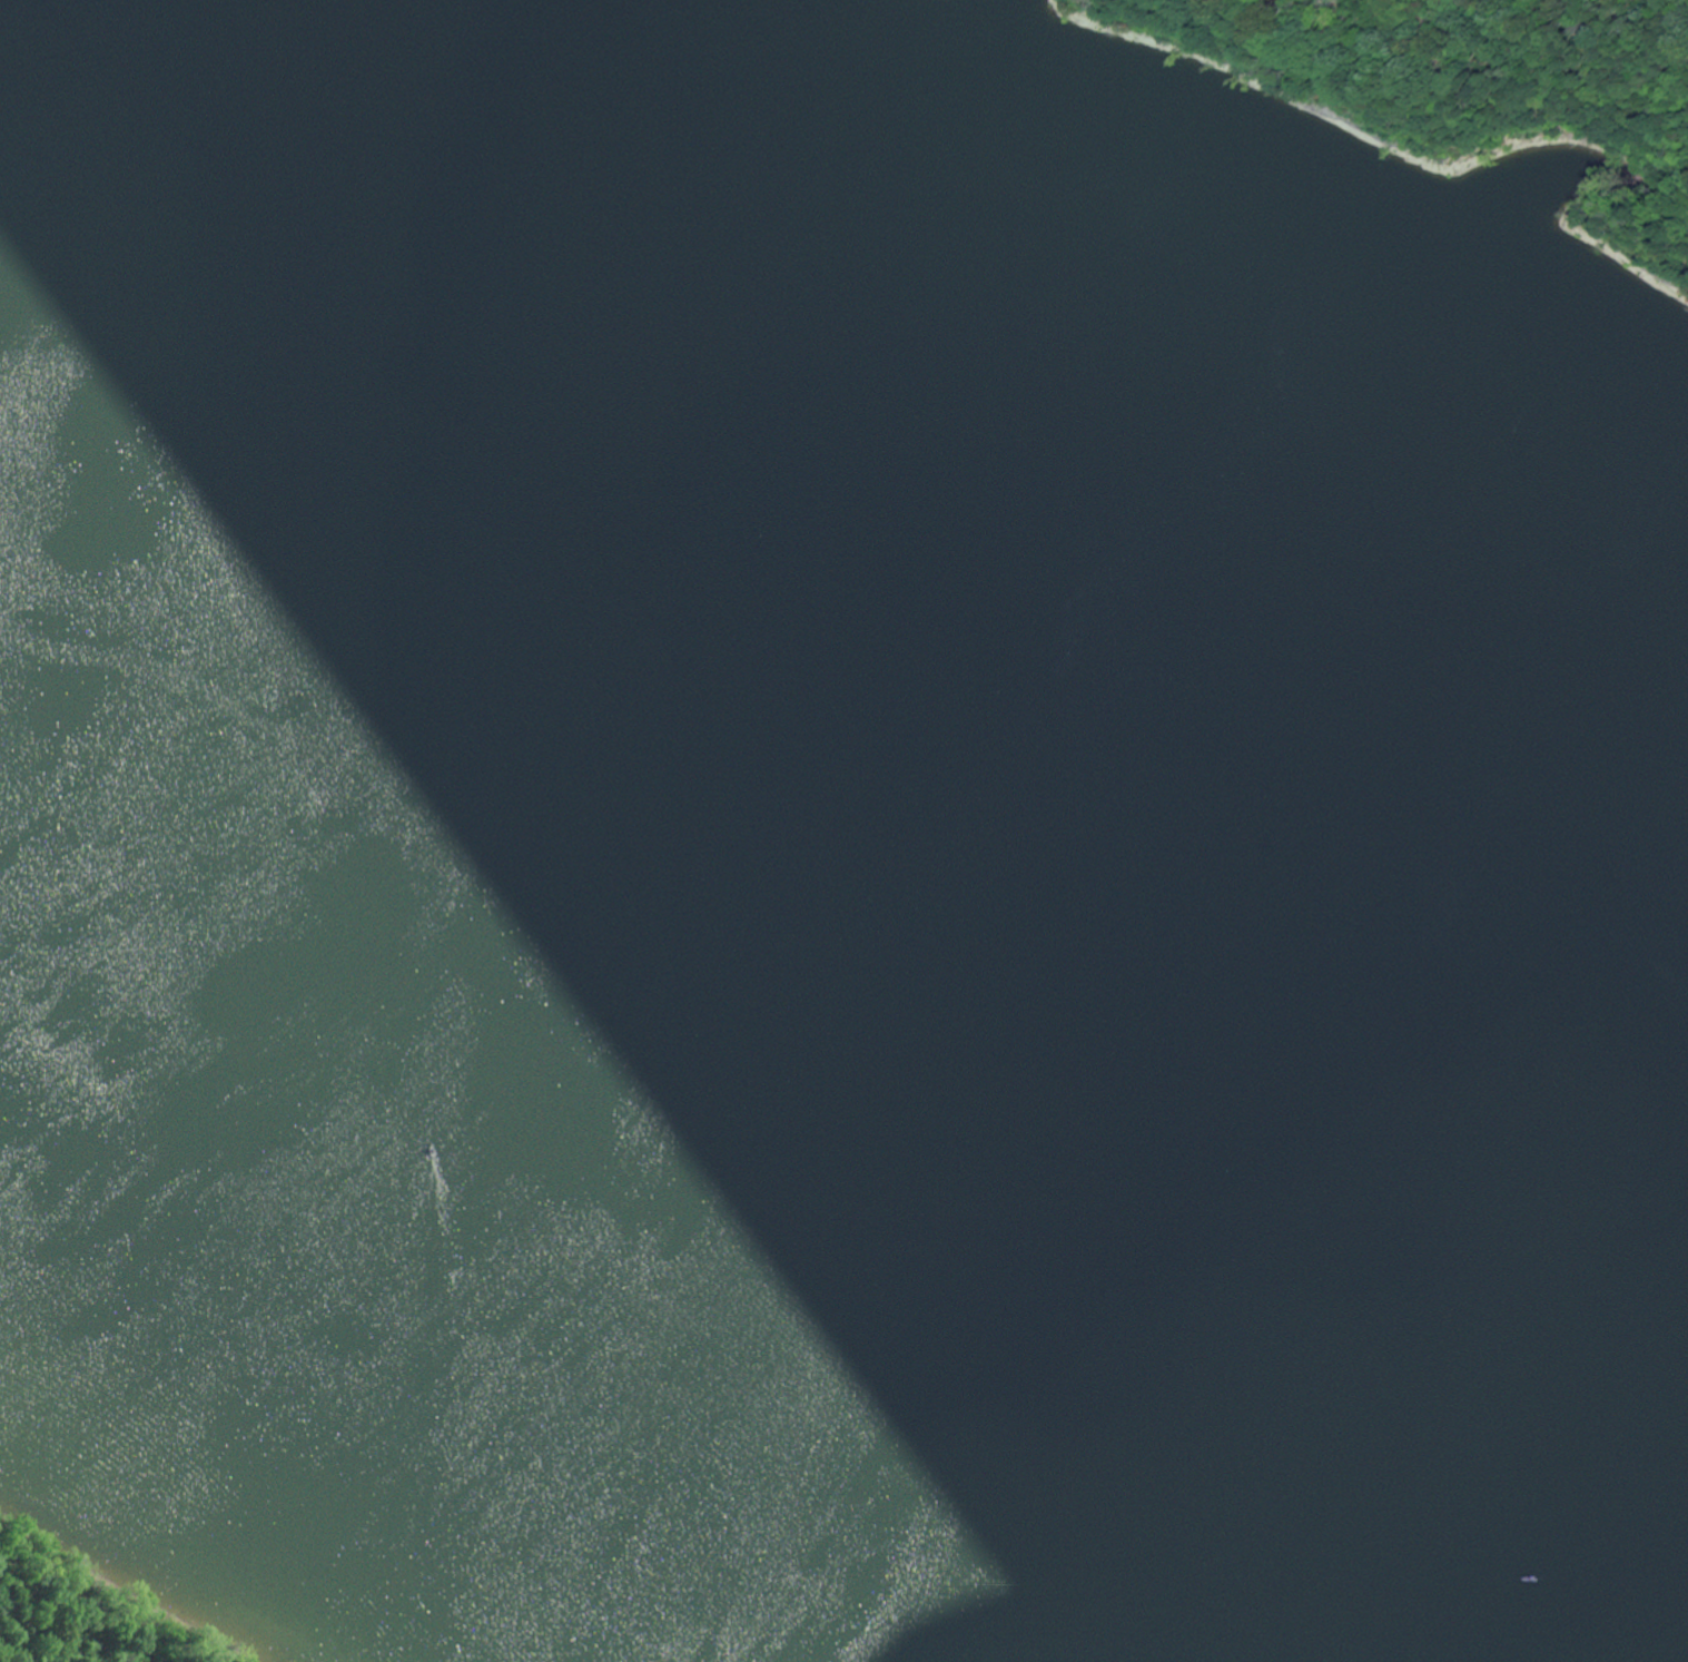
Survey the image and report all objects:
park: (79, 1611)

